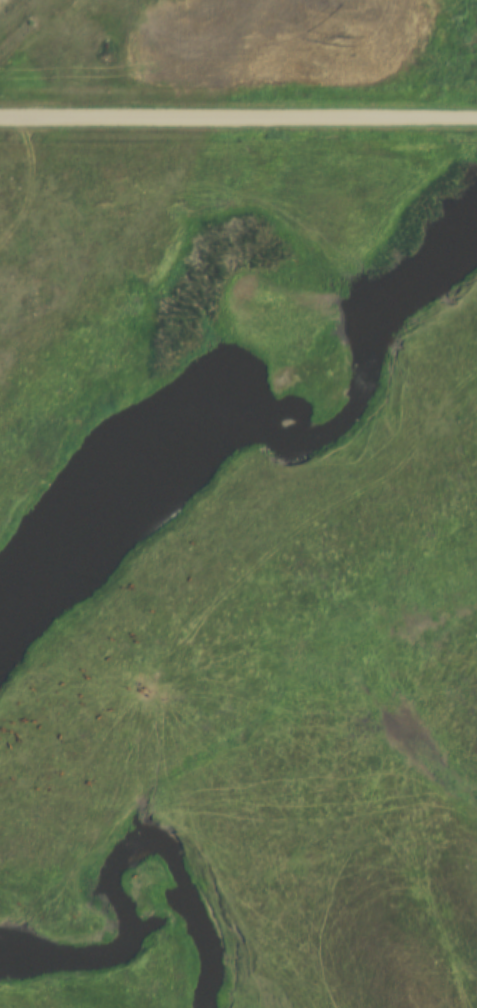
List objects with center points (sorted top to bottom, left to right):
quarry: (72, 29)
road: (238, 120)
river: (259, 421)
river: (112, 856)

